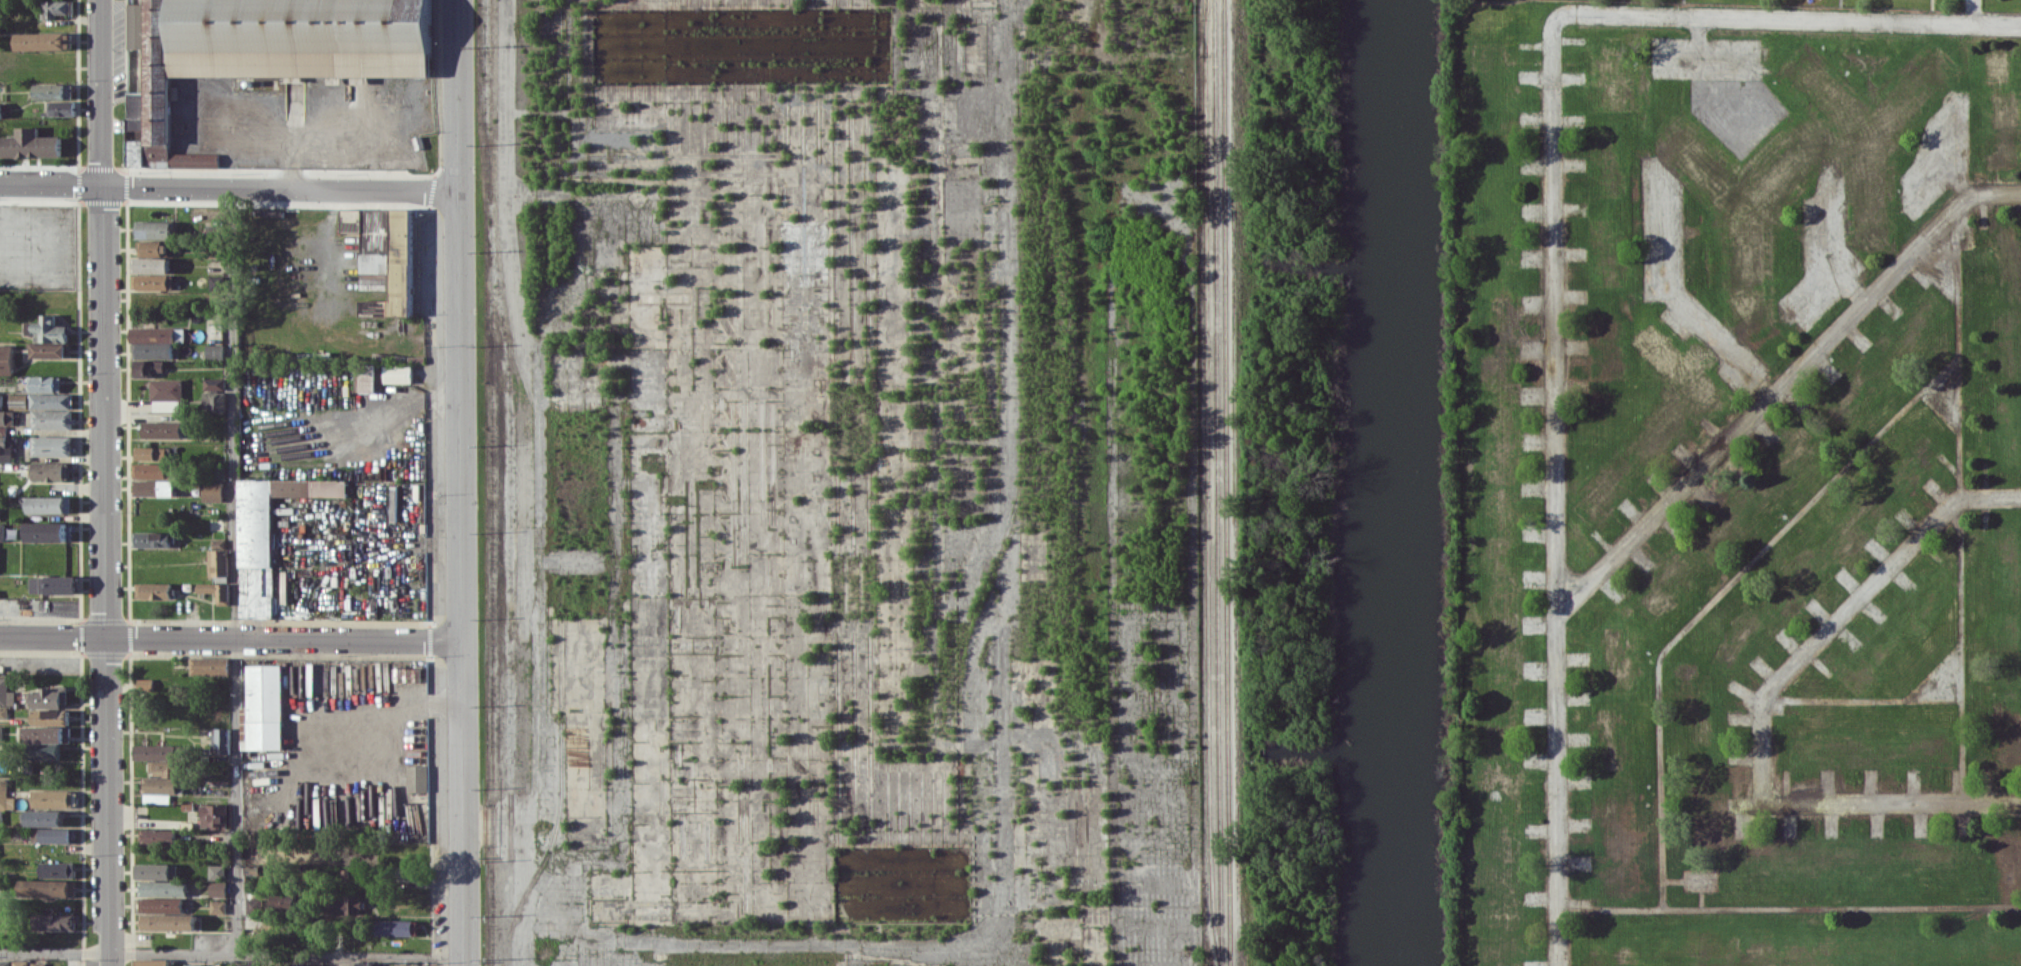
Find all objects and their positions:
park: (1871, 3)
building: (55, 8)
road: (1973, 11)
park: (1494, 14)
road: (1789, 18)
railway: (1207, 27)
building: (43, 41)
building: (269, 48)
road: (1705, 57)
building: (53, 91)
building: (61, 107)
building: (1, 110)
building: (137, 110)
road: (1727, 120)
building: (30, 144)
building: (137, 152)
road: (1939, 161)
road: (1955, 177)
road: (230, 183)
building: (155, 229)
road: (1824, 245)
building: (154, 247)
building: (376, 262)
building: (151, 264)
building: (402, 276)
road: (1934, 277)
building: (376, 281)
building: (152, 282)
building: (217, 283)
road: (1810, 295)
road: (1672, 300)
road: (1554, 316)
building: (46, 330)
building: (157, 334)
building: (50, 350)
building: (153, 350)
building: (214, 350)
building: (6, 359)
building: (148, 367)
building: (397, 373)
building: (367, 377)
building: (44, 383)
building: (214, 383)
road: (1780, 386)
building: (166, 395)
building: (0, 400)
building: (18, 400)
building: (50, 401)
building: (214, 401)
road: (1941, 412)
building: (6, 417)
building: (51, 419)
building: (162, 429)
building: (52, 445)
building: (6, 449)
building: (153, 453)
building: (150, 470)
building: (49, 471)
road: (103, 482)
railway: (1226, 482)
road: (462, 483)
railway: (1208, 483)
railway: (1216, 483)
building: (154, 487)
building: (212, 491)
road: (1960, 503)
building: (49, 504)
building: (45, 531)
building: (1, 532)
building: (268, 534)
building: (153, 539)
building: (218, 562)
road: (235, 569)
building: (53, 584)
building: (154, 590)
building: (217, 591)
road: (1719, 596)
road: (1845, 612)
road: (231, 638)
building: (210, 666)
road: (1935, 672)
building: (407, 674)
building: (143, 685)
building: (5, 693)
building: (50, 697)
road: (1862, 698)
building: (264, 707)
building: (3, 712)
building: (50, 715)
building: (1, 732)
building: (47, 734)
building: (221, 740)
building: (158, 752)
building: (46, 754)
building: (417, 778)
building: (161, 780)
road: (1557, 791)
building: (5, 796)
building: (52, 797)
road: (1893, 802)
building: (213, 816)
building: (44, 817)
building: (1, 818)
building: (51, 835)
building: (158, 836)
building: (57, 868)
building: (154, 871)
building: (216, 871)
road: (348, 880)
building: (46, 888)
building: (163, 888)
building: (217, 888)
building: (282, 901)
building: (160, 904)
building: (253, 905)
building: (345, 905)
building: (217, 907)
road: (1789, 909)
building: (51, 921)
building: (167, 922)
building: (396, 927)
road: (232, 955)
building: (19, 962)
building: (152, 962)
building: (4, 963)
building: (38, 963)
building: (245, 964)
building: (315, 964)
building: (355, 964)
building: (192, 965)
building: (399, 965)
building: (421, 965)

